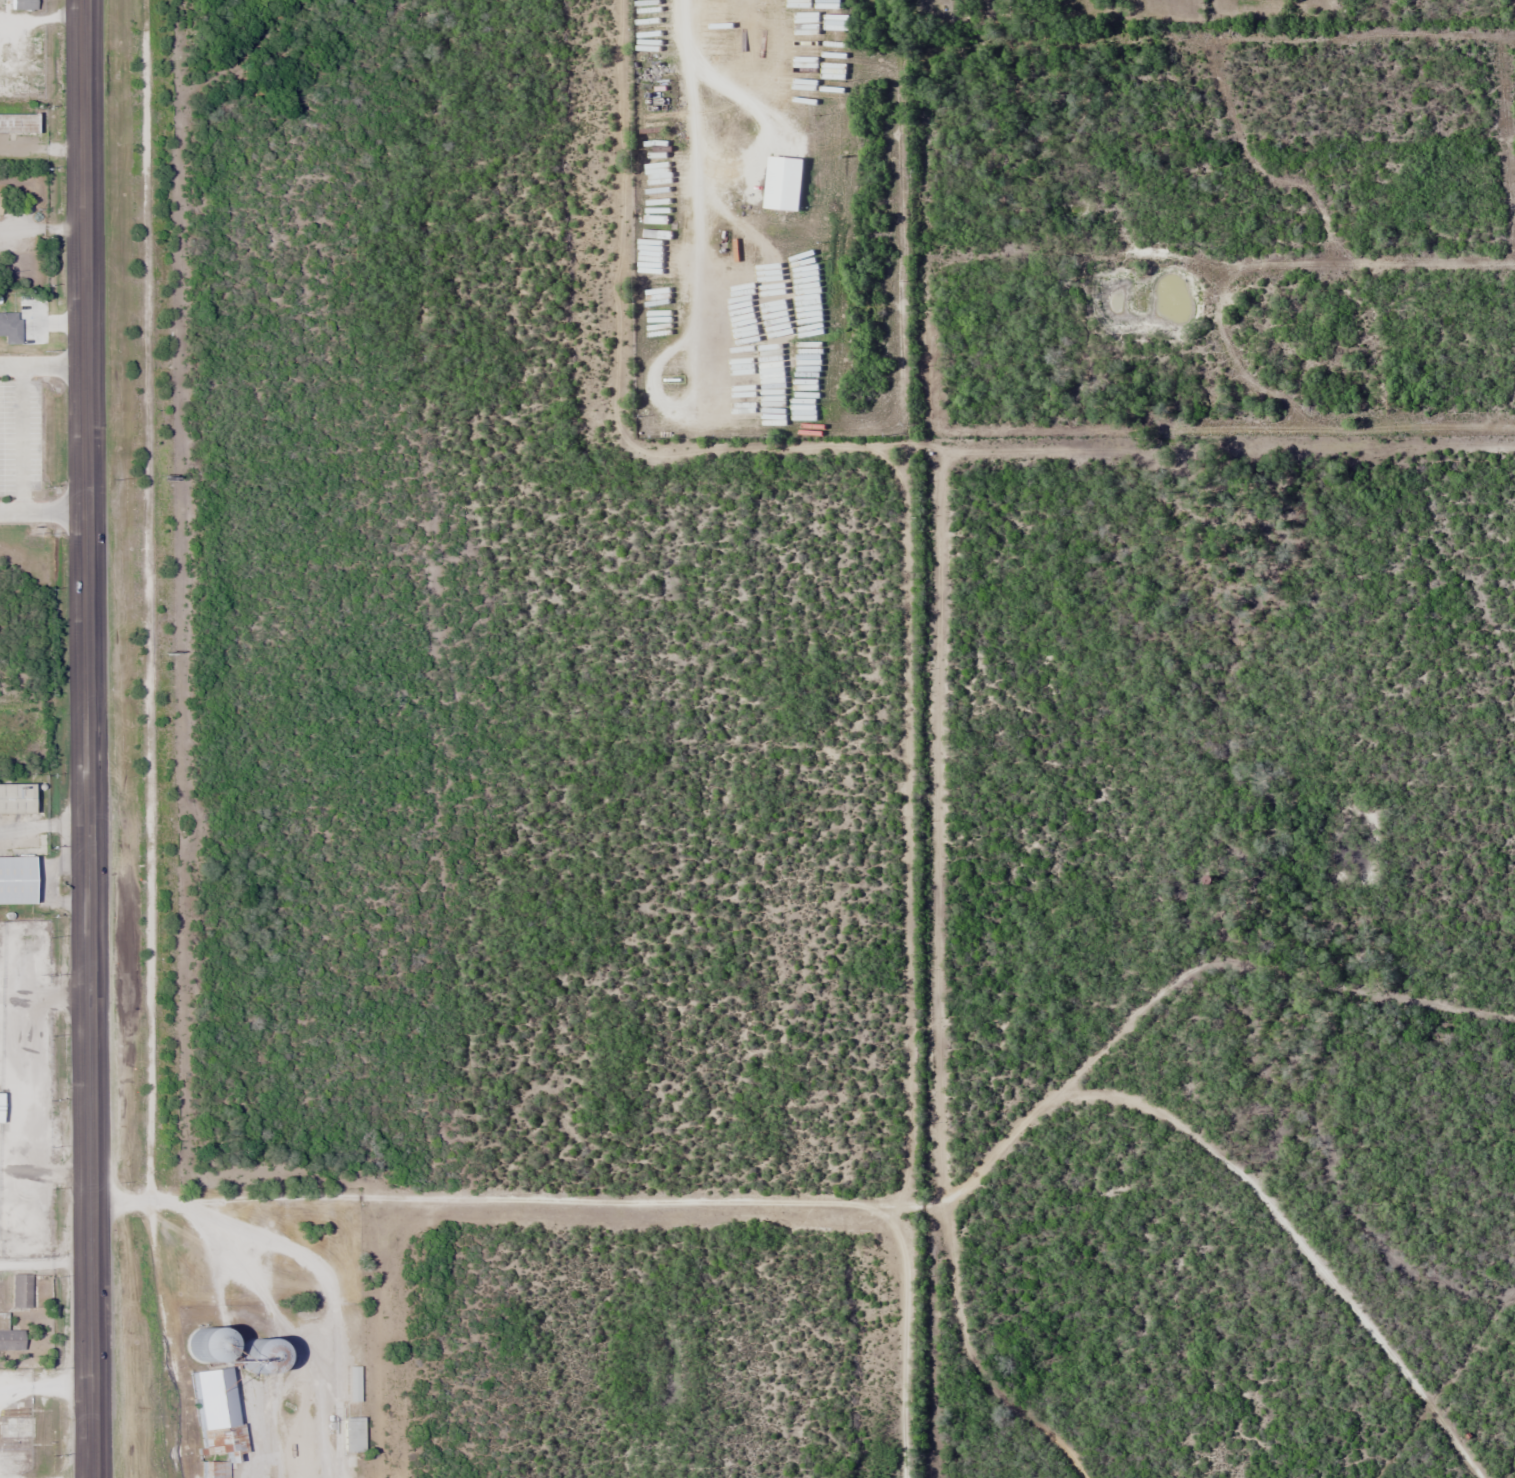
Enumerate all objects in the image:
building: (22, 4)
road: (708, 78)
building: (16, 122)
building: (10, 327)
road: (87, 739)
railway: (146, 739)
building: (15, 798)
building: (15, 880)
road: (1243, 1184)
road: (492, 1201)
building: (20, 1291)
road: (899, 1317)
building: (9, 1338)
building: (201, 1346)
road: (990, 1346)
building: (253, 1357)
building: (352, 1384)
building: (215, 1413)
building: (351, 1435)
building: (214, 1469)

